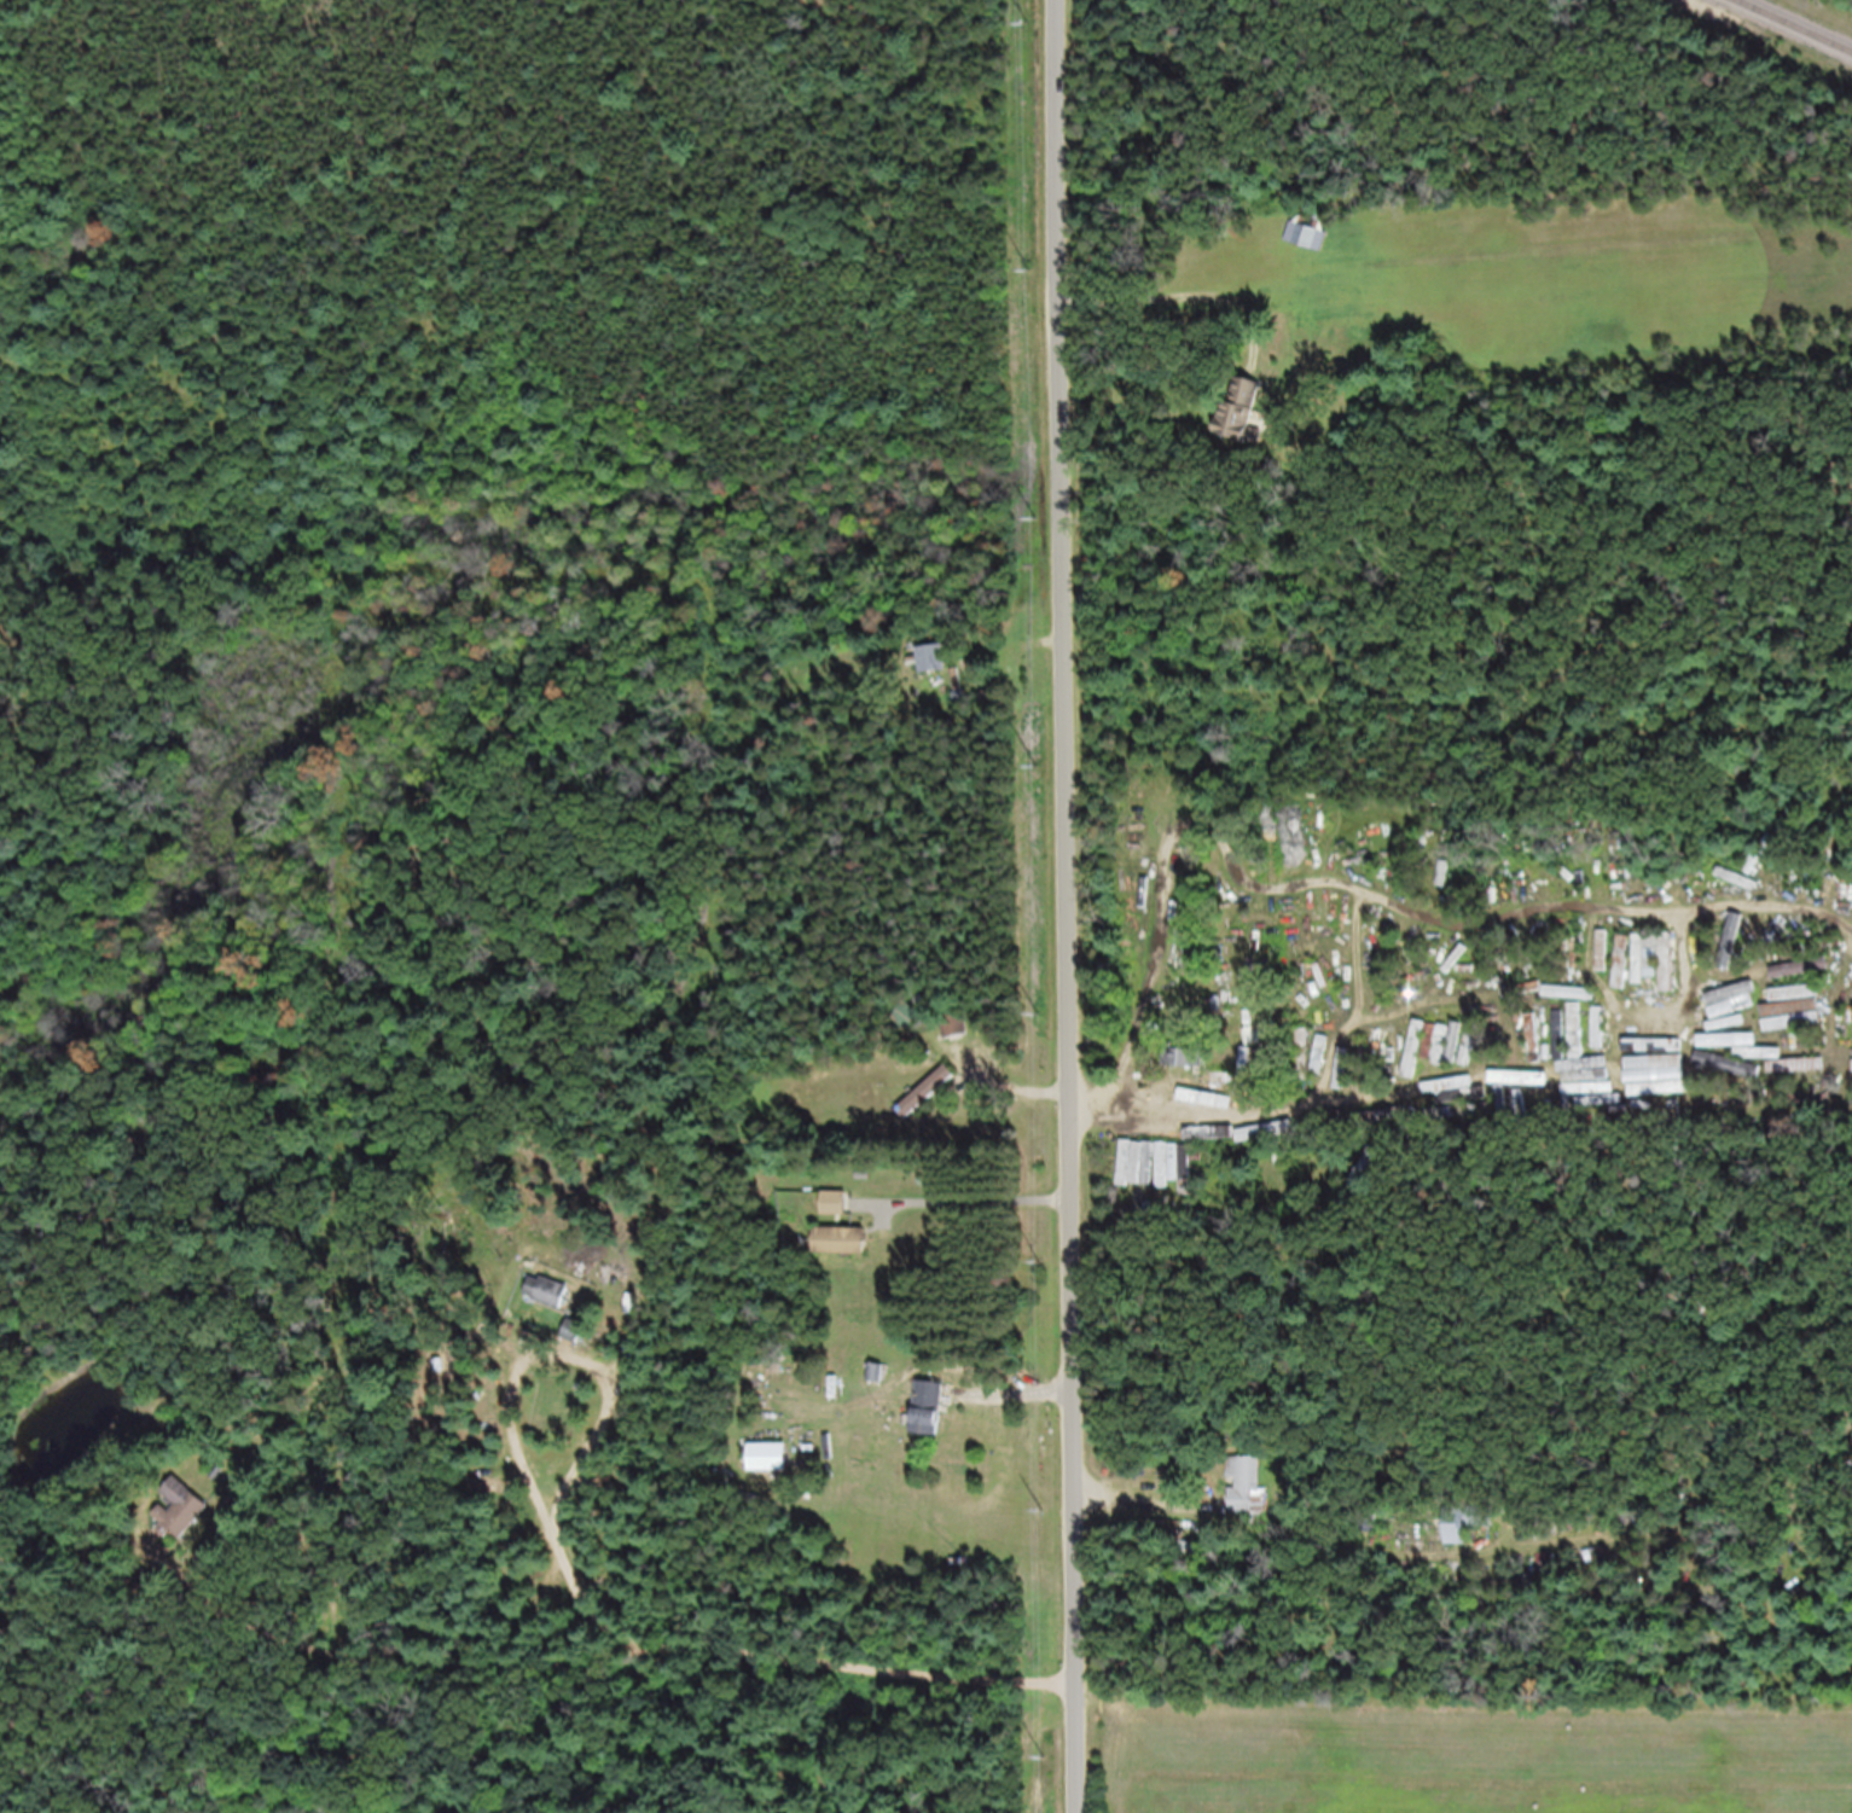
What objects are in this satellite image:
railway: (1781, 31)
building: (1308, 246)
building: (1250, 422)
building: (939, 669)
road: (1064, 906)
building: (1651, 971)
building: (1751, 989)
building: (1575, 1005)
road: (245, 1025)
building: (959, 1032)
building: (1726, 1033)
building: (1678, 1035)
building: (1598, 1039)
building: (1574, 1042)
building: (1533, 1046)
building: (1674, 1056)
road: (472, 1058)
building: (1415, 1062)
building: (1184, 1068)
building: (1728, 1076)
building: (1647, 1079)
road: (677, 1091)
building: (933, 1102)
building: (1555, 1102)
building: (1657, 1102)
building: (1691, 1102)
building: (1464, 1108)
building: (1178, 1135)
building: (1146, 1173)
building: (1177, 1174)
building: (842, 1213)
building: (850, 1251)
building: (553, 1301)
building: (577, 1341)
building: (937, 1418)
building: (779, 1468)
building: (1248, 1497)
building: (188, 1519)
building: (1451, 1538)

